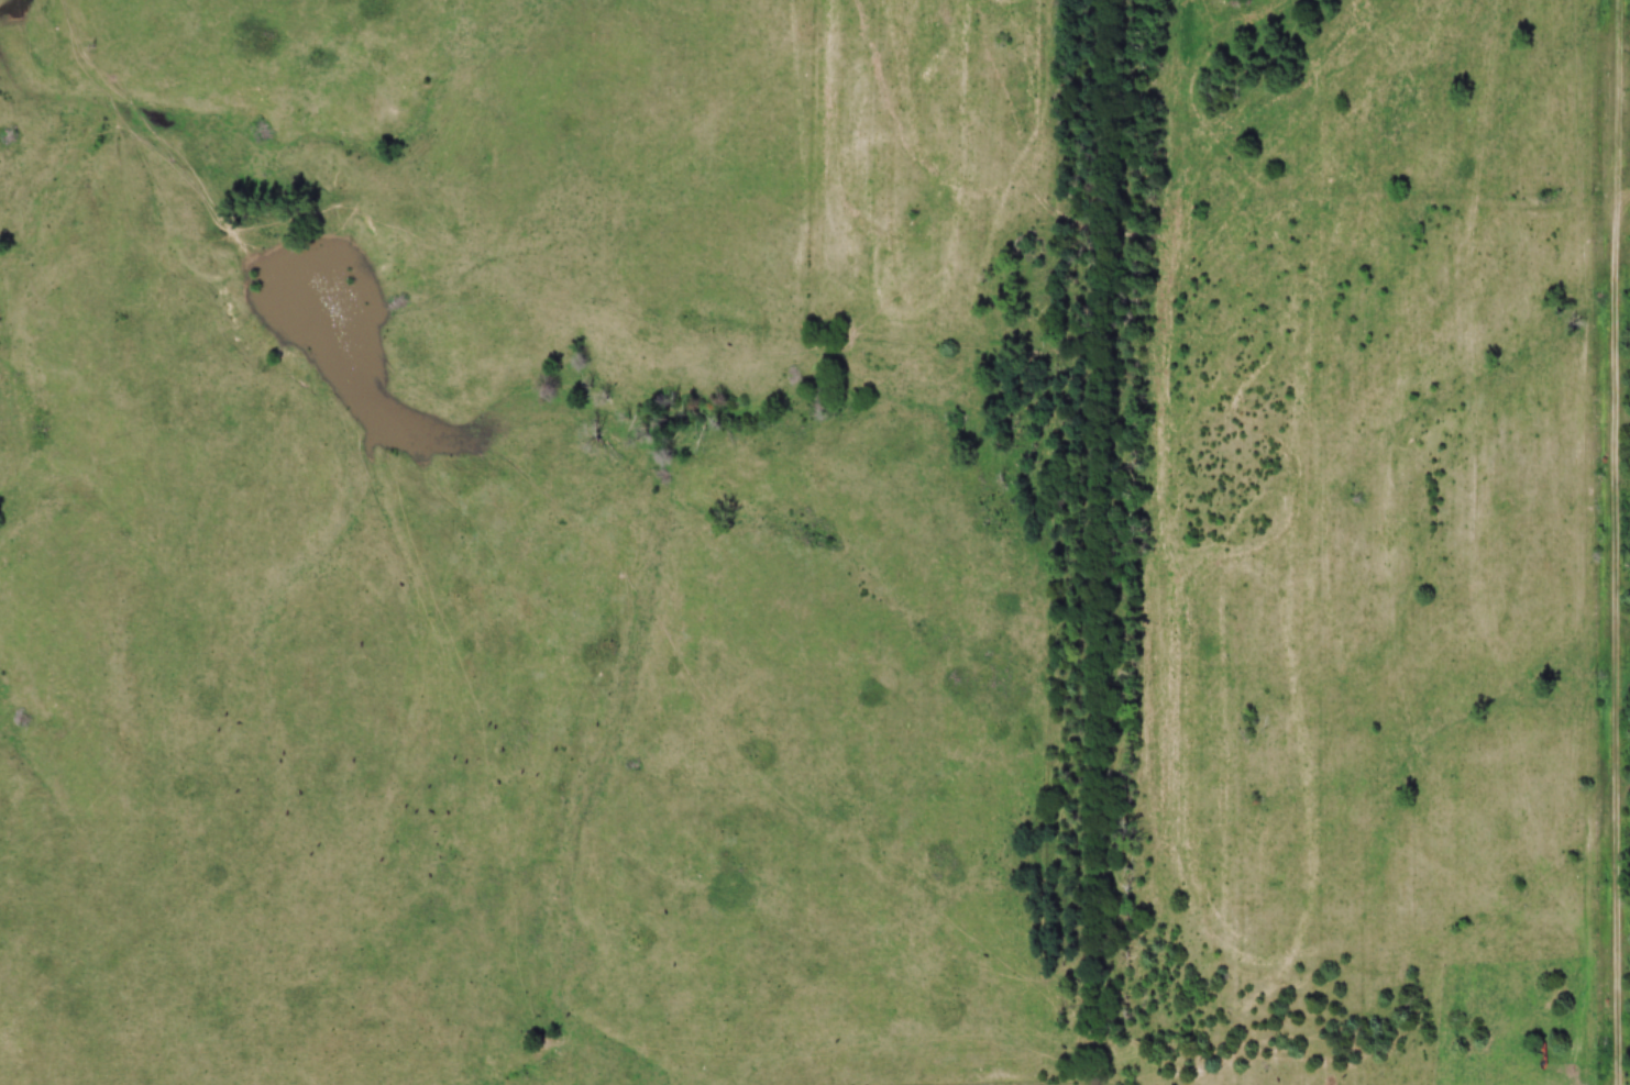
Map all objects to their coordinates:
road: (1612, 542)

